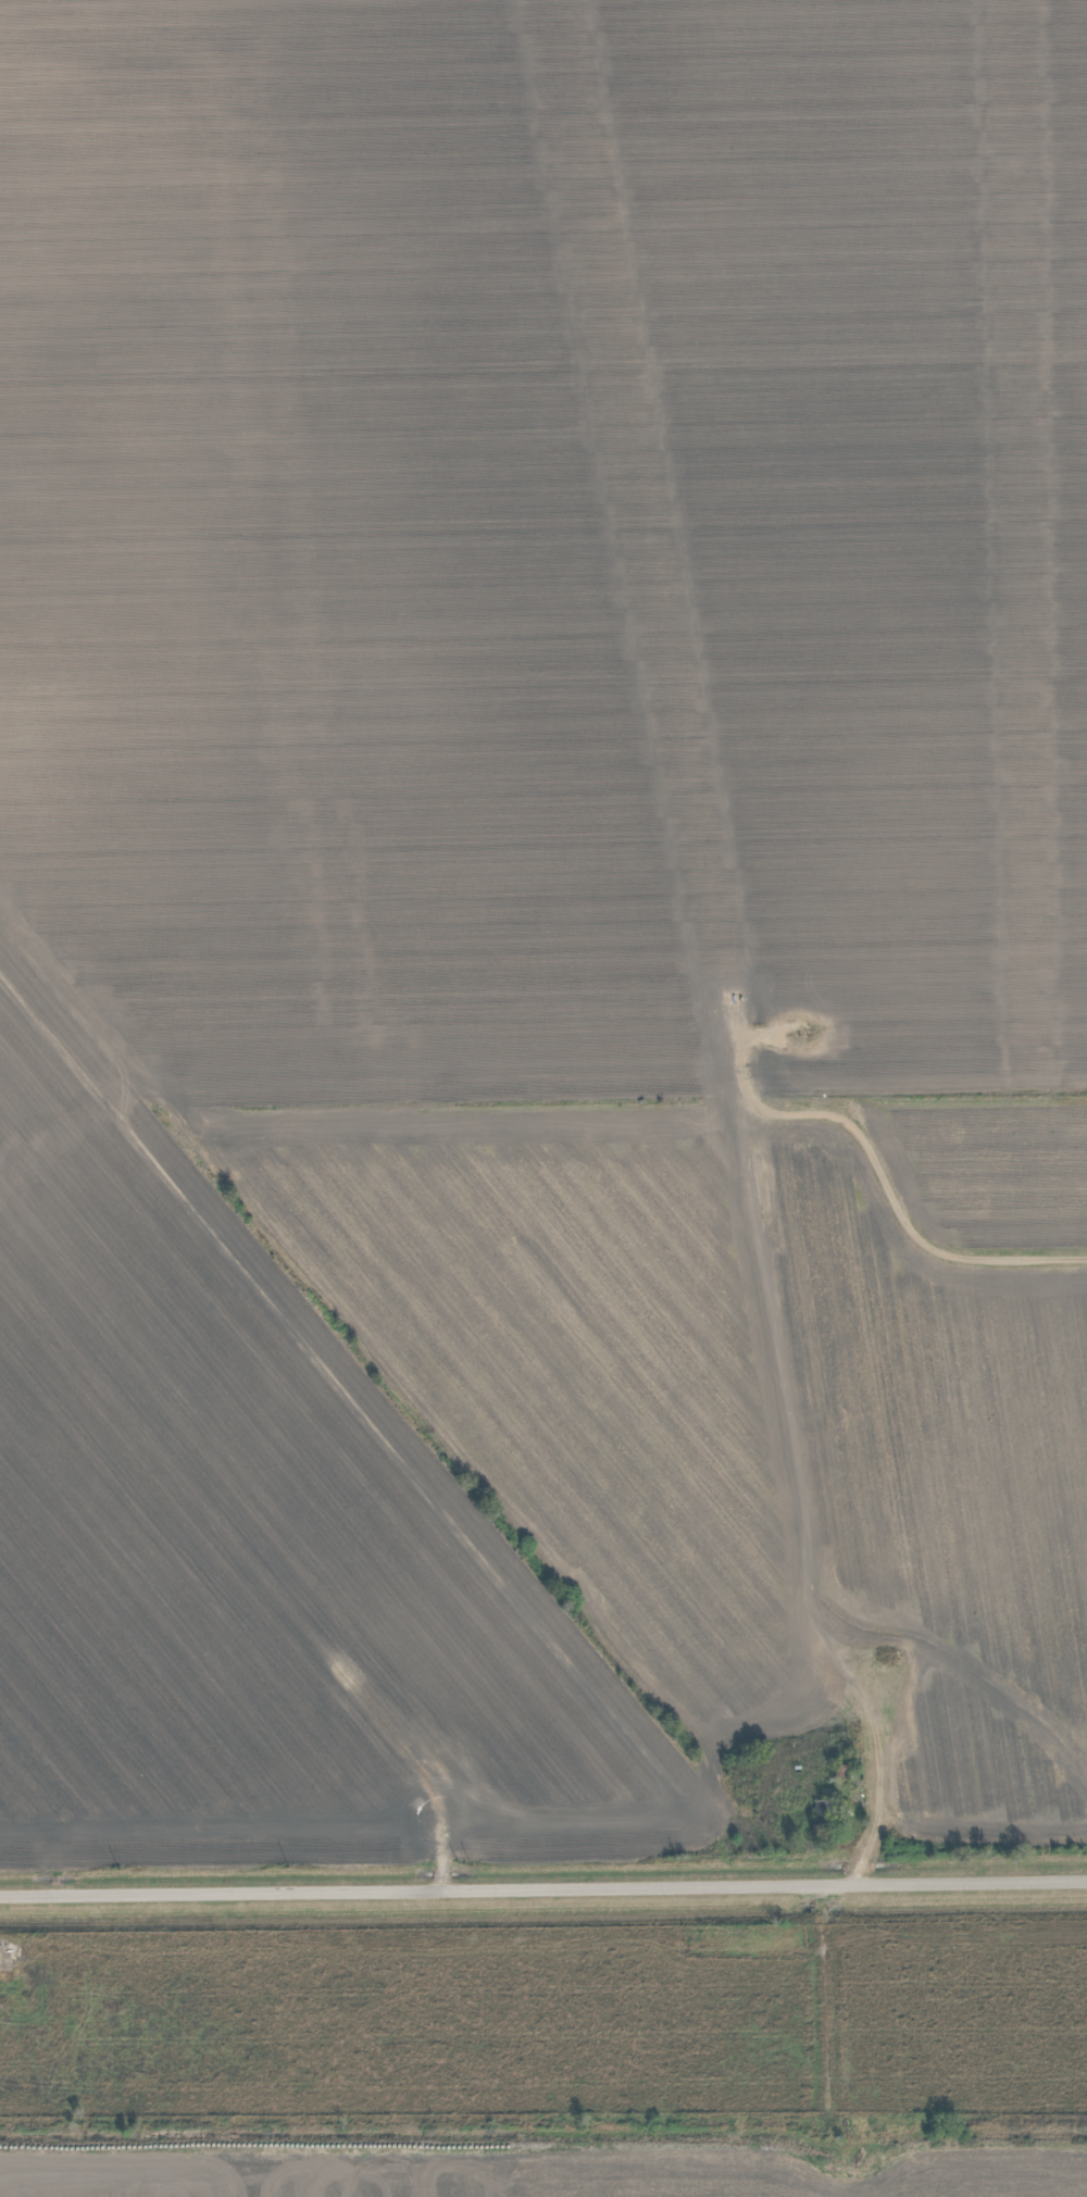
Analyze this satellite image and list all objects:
road: (542, 1883)

